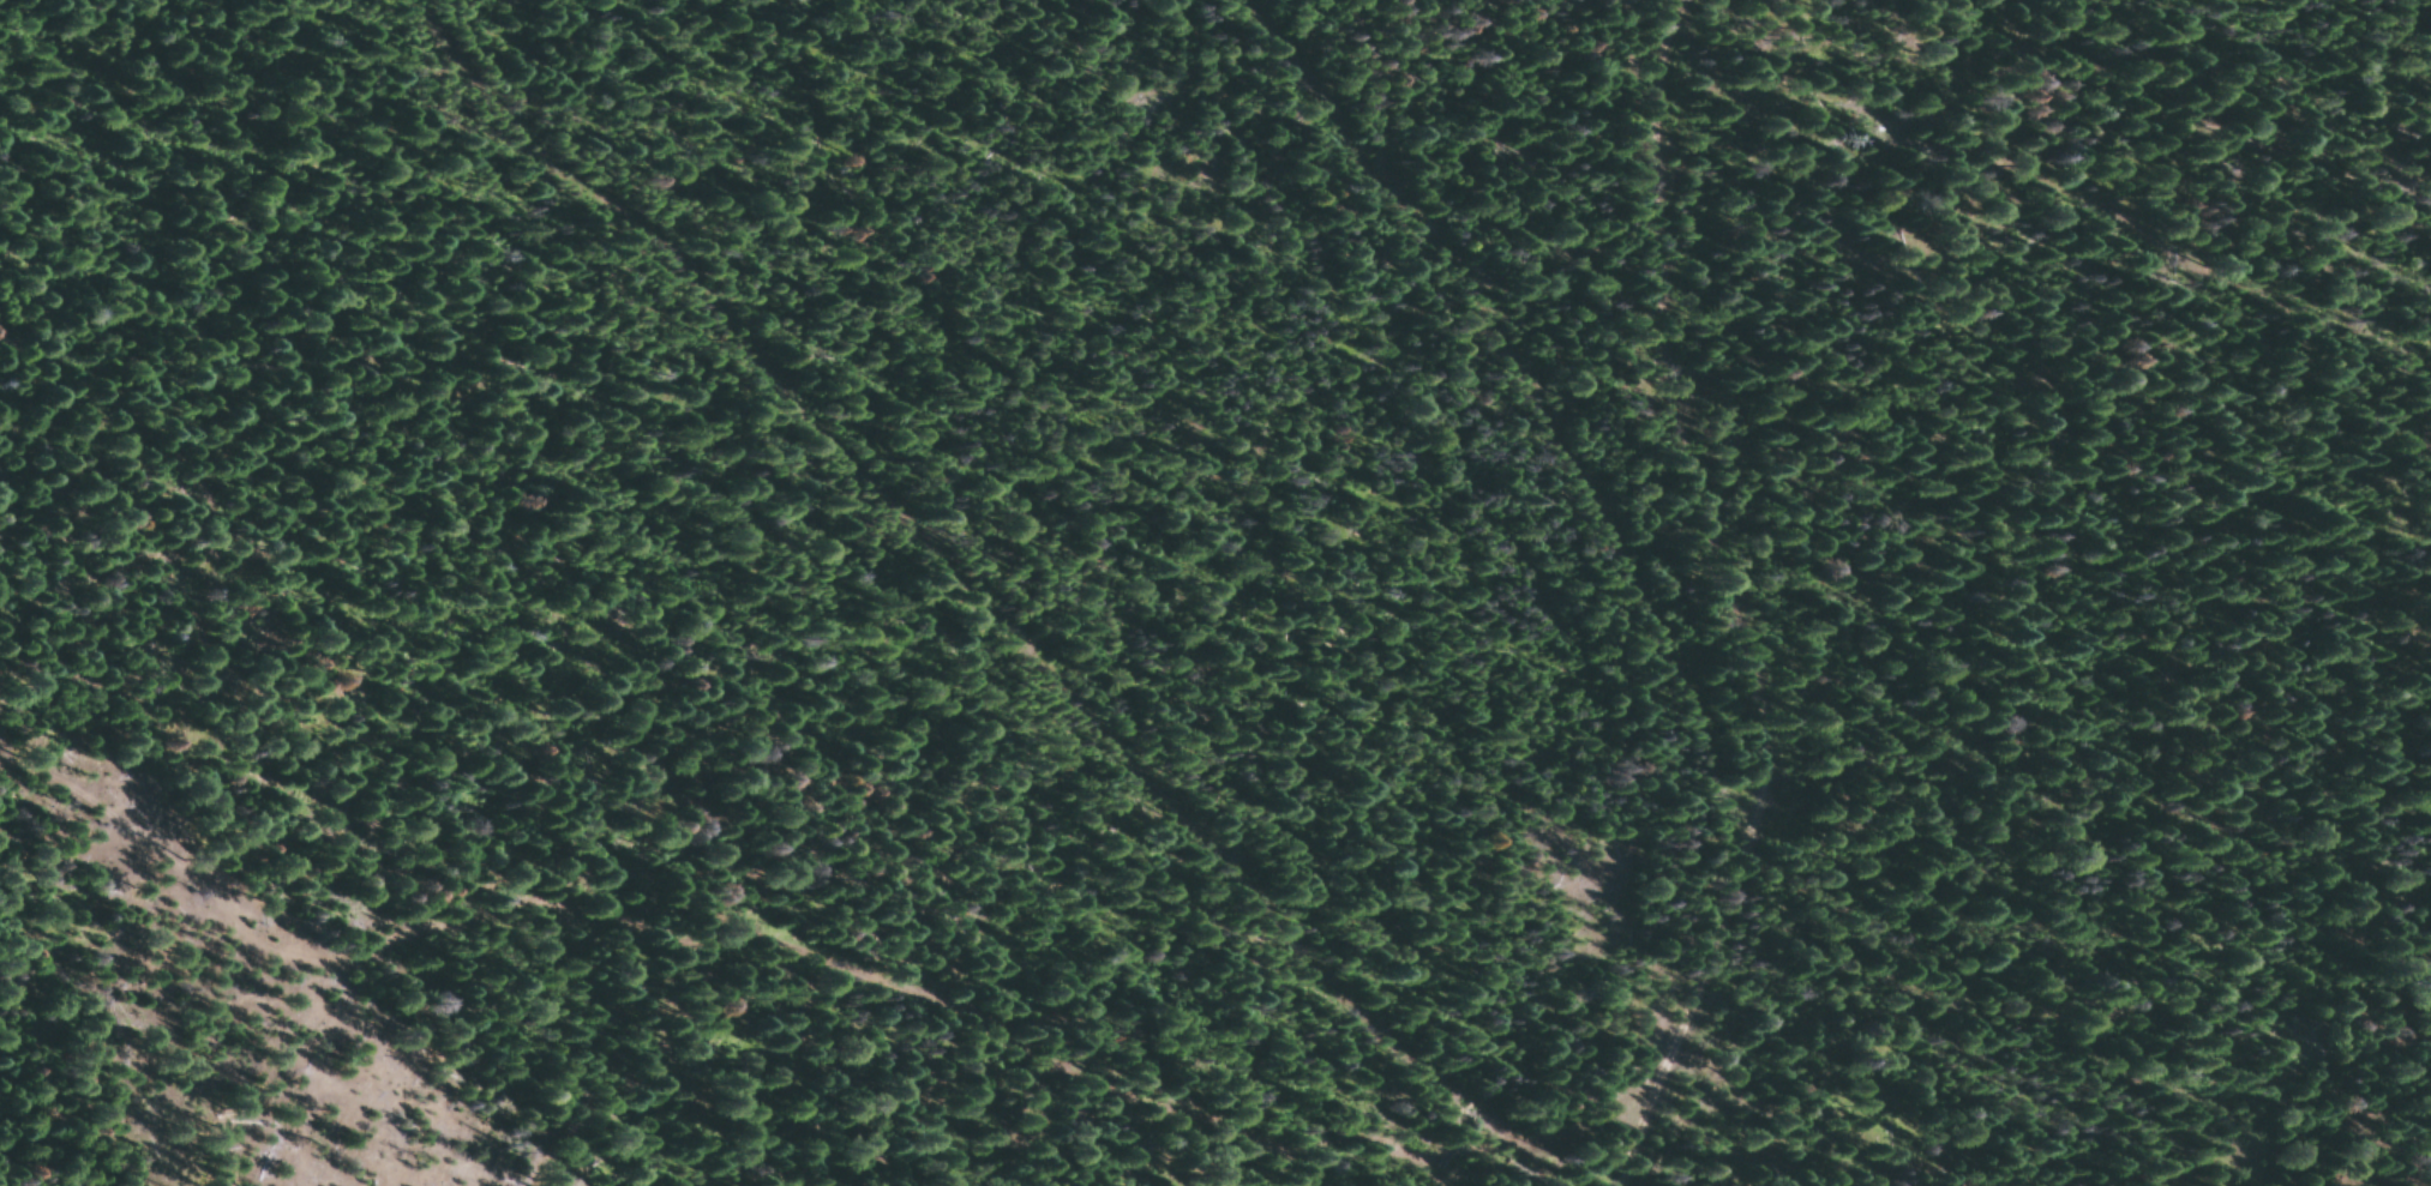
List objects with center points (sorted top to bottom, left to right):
road: (1483, 384)
road: (965, 585)
road: (1697, 595)
road: (658, 957)
road: (1461, 1172)

